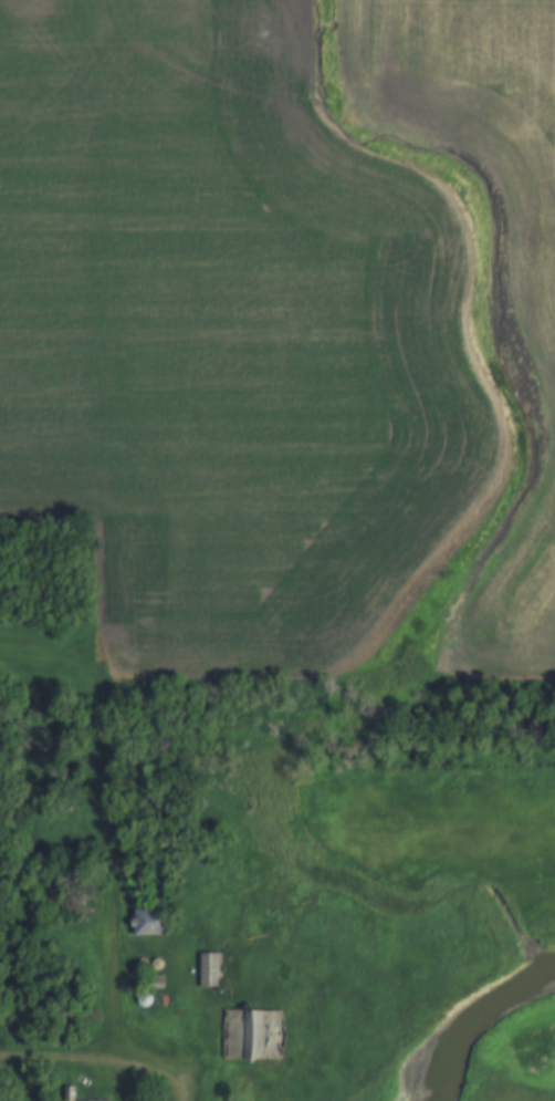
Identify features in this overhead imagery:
building: (146, 923)
building: (207, 972)
river: (471, 1028)
building: (249, 1037)
road: (101, 1064)

